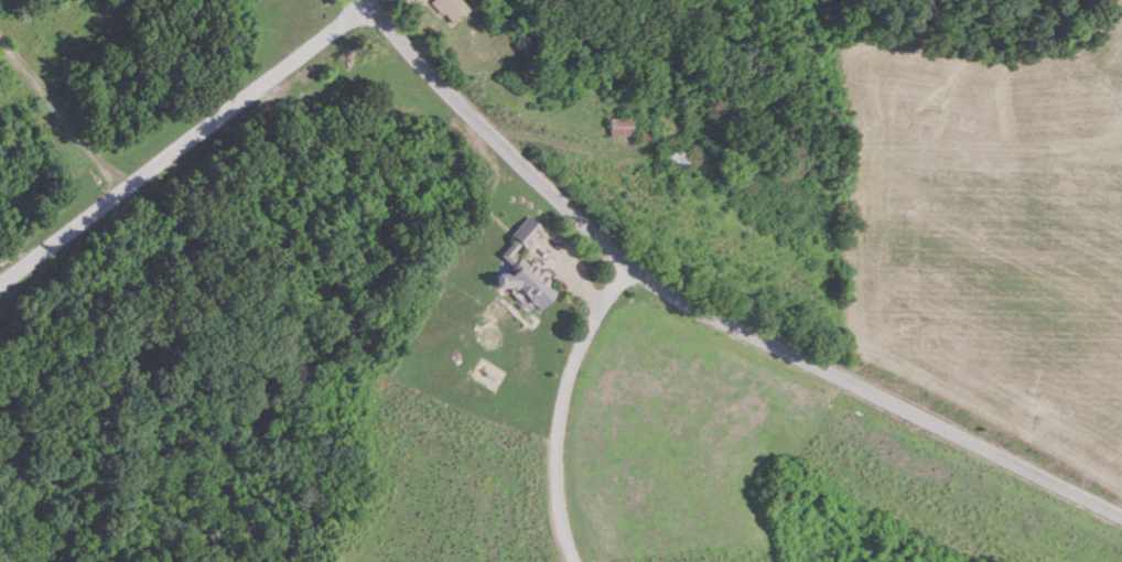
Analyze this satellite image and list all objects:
building: (450, 9)
building: (619, 127)
road: (180, 140)
building: (677, 158)
building: (525, 270)
road: (706, 310)
road: (559, 404)

